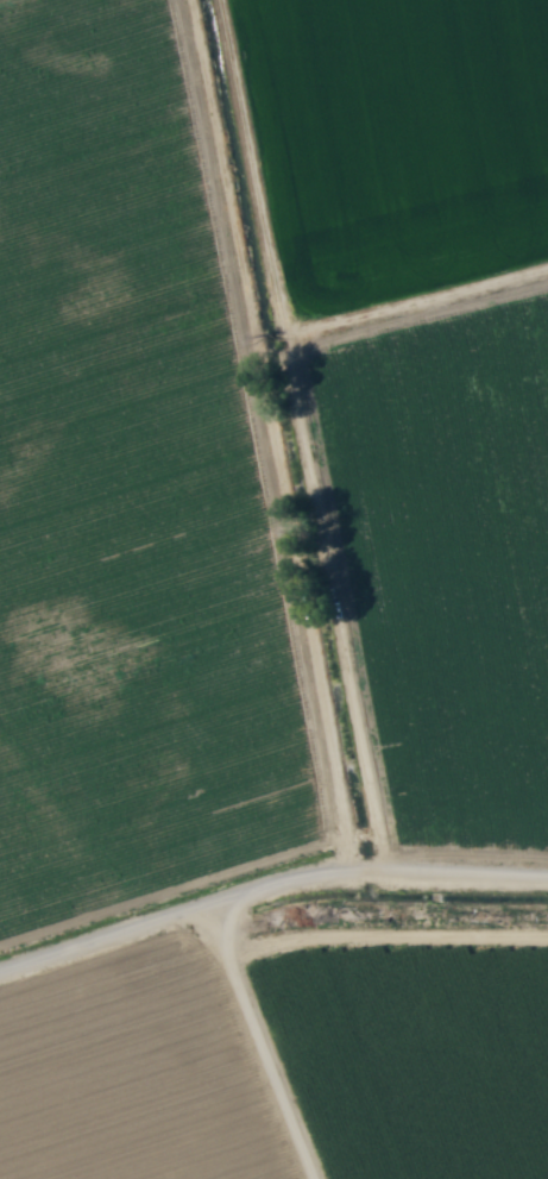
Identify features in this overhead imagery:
road: (246, 889)
road: (124, 923)

